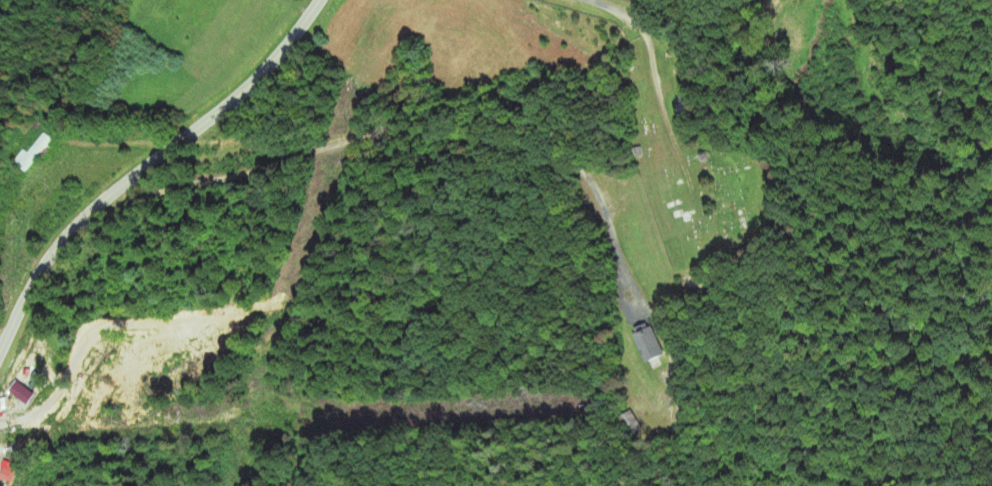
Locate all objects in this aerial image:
road: (622, 9)
road: (395, 132)
park: (696, 155)
building: (35, 156)
road: (146, 164)
building: (650, 347)
building: (0, 470)
building: (11, 478)

